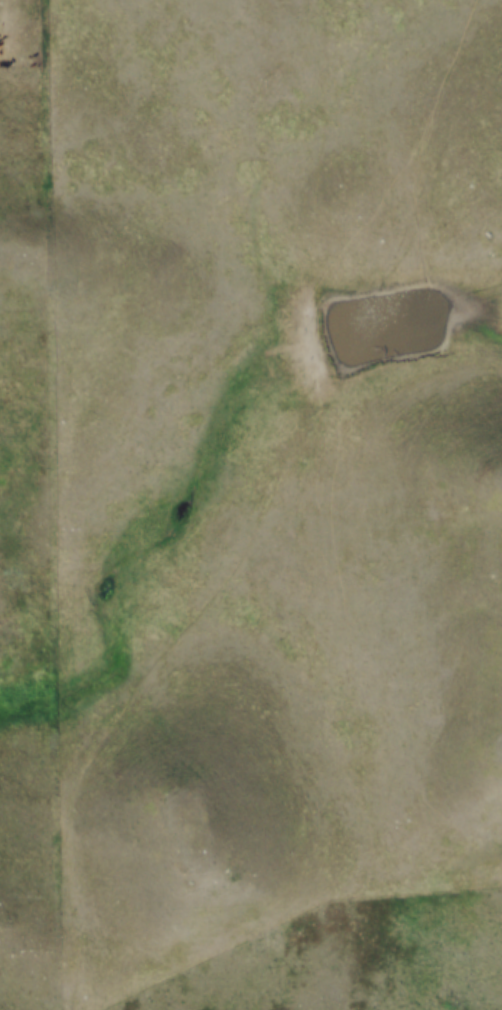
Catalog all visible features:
road: (279, 926)

